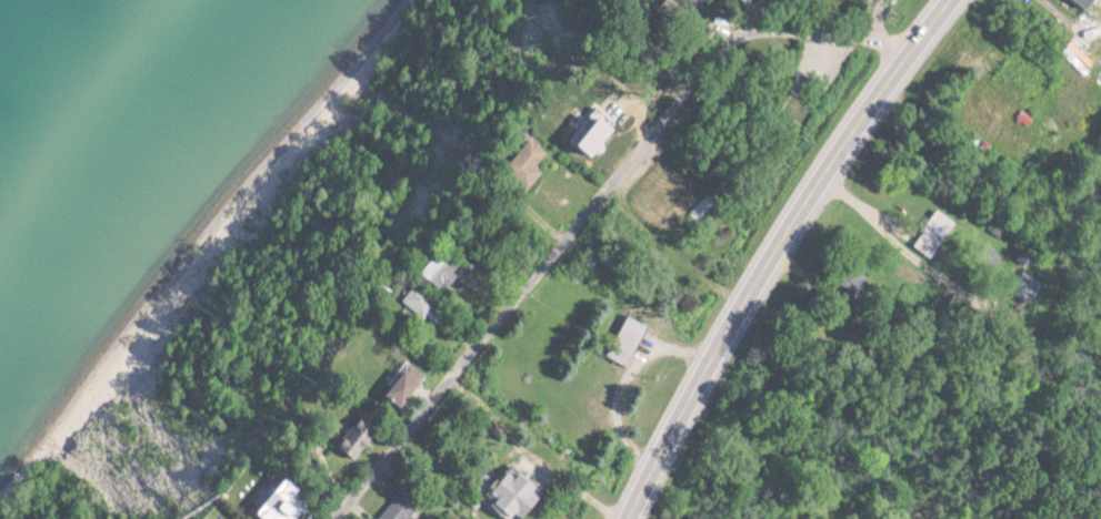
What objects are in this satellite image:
building: (749, 1)
building: (691, 2)
building: (1085, 3)
building: (671, 11)
road: (883, 19)
building: (599, 133)
building: (527, 162)
road: (588, 205)
road: (872, 217)
road: (778, 250)
building: (420, 303)
building: (629, 340)
building: (410, 386)
building: (362, 438)
building: (519, 496)
building: (286, 502)
building: (401, 507)

